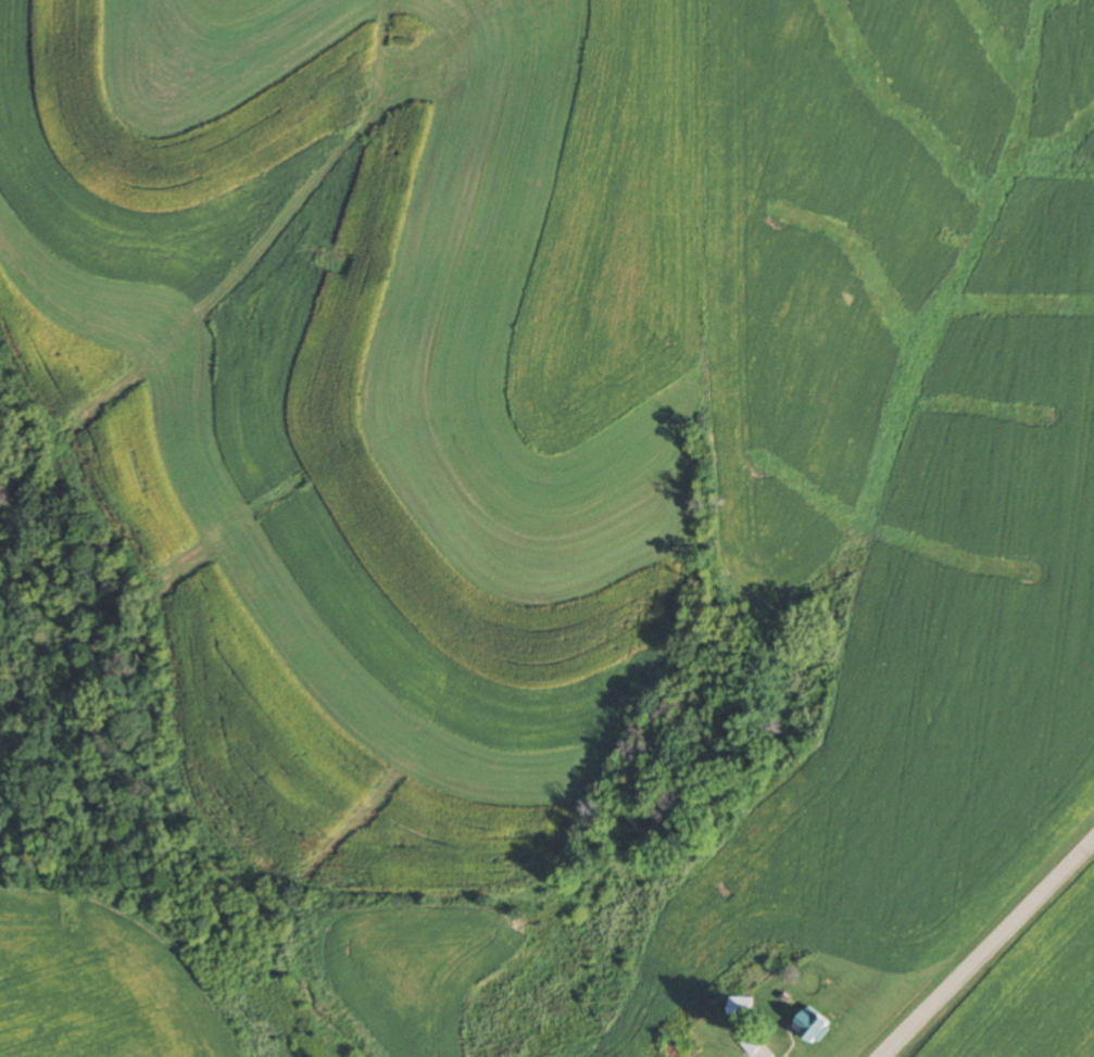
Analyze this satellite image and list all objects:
road: (988, 946)
building: (738, 1006)
building: (812, 1025)
building: (753, 1046)

